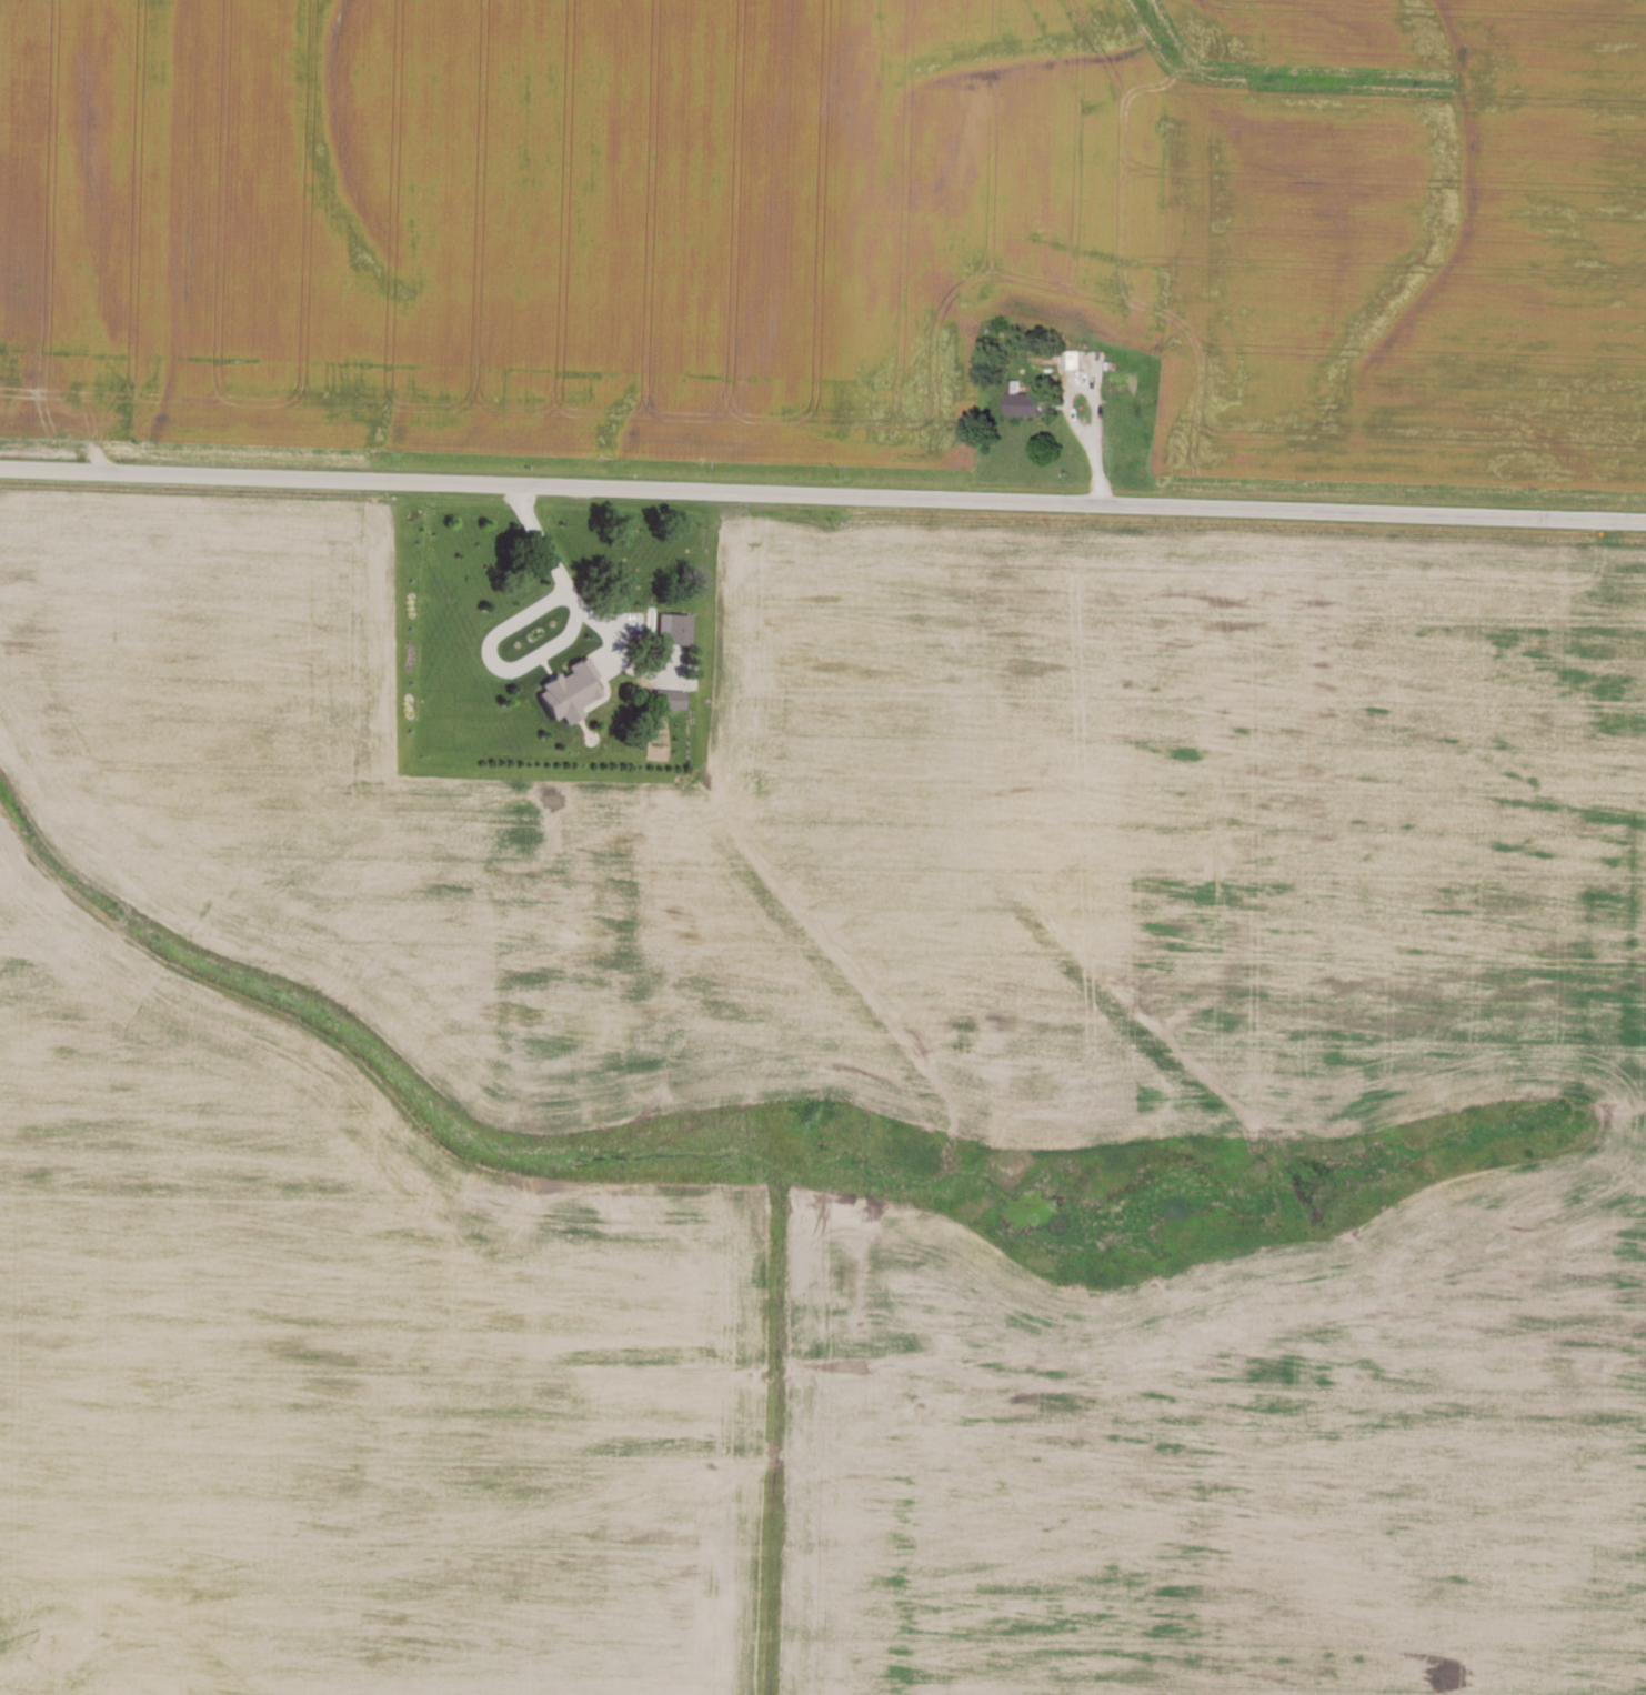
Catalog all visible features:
building: (1072, 357)
building: (1027, 401)
road: (1097, 404)
road: (1101, 475)
road: (822, 494)
road: (576, 603)
building: (672, 625)
building: (569, 688)
building: (669, 695)

